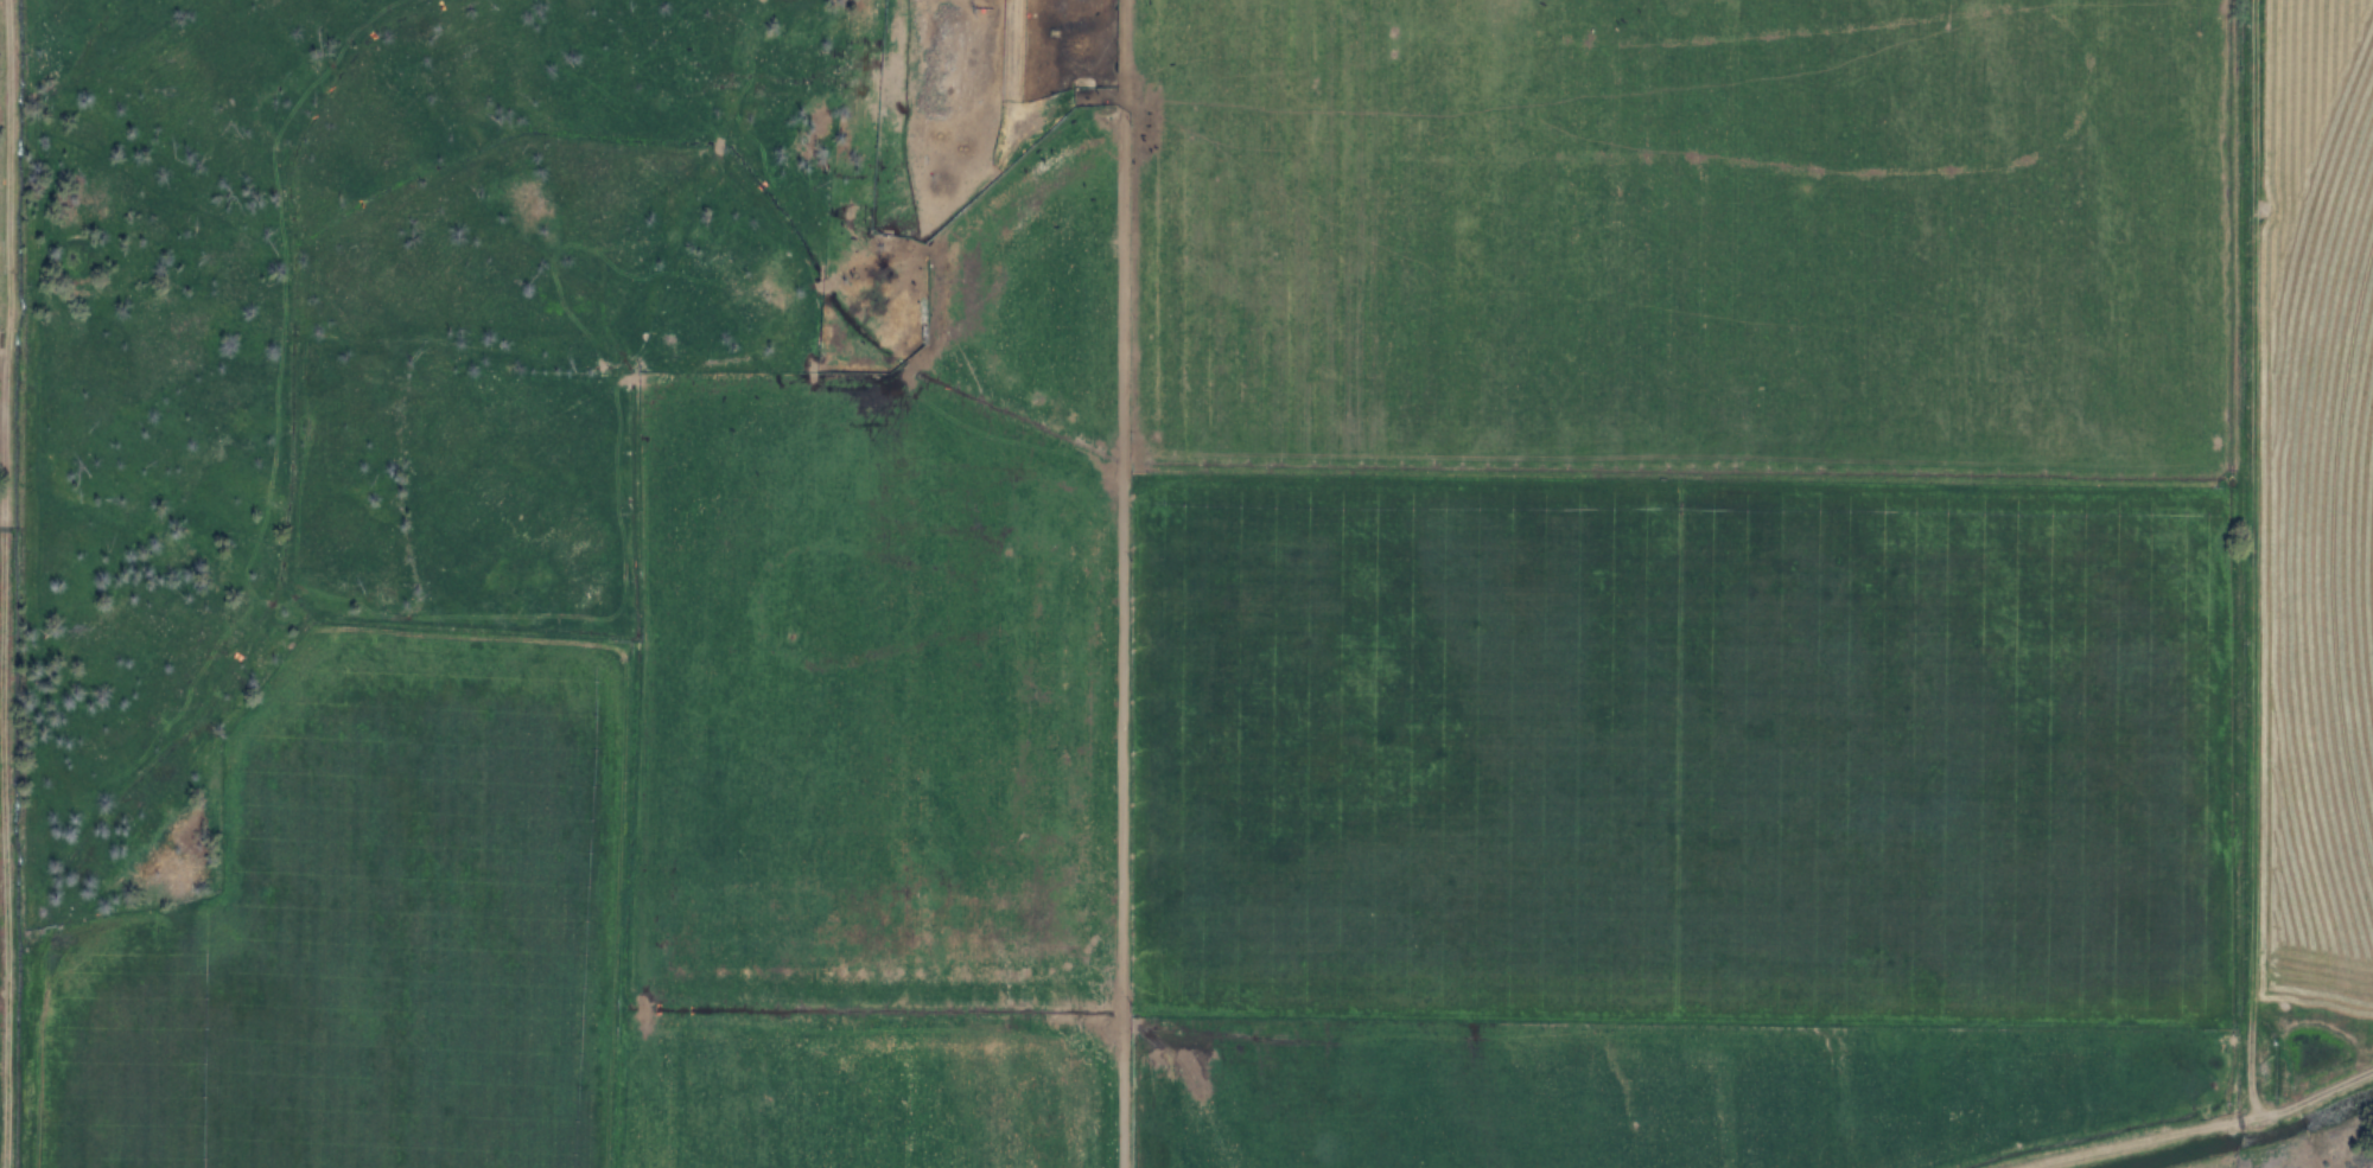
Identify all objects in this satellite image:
road: (2207, 1126)

